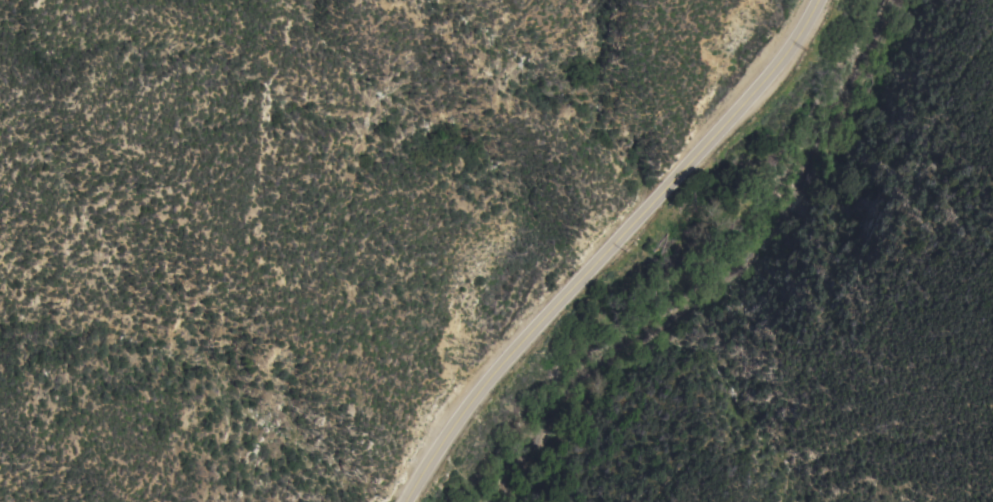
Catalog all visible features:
road: (619, 250)

